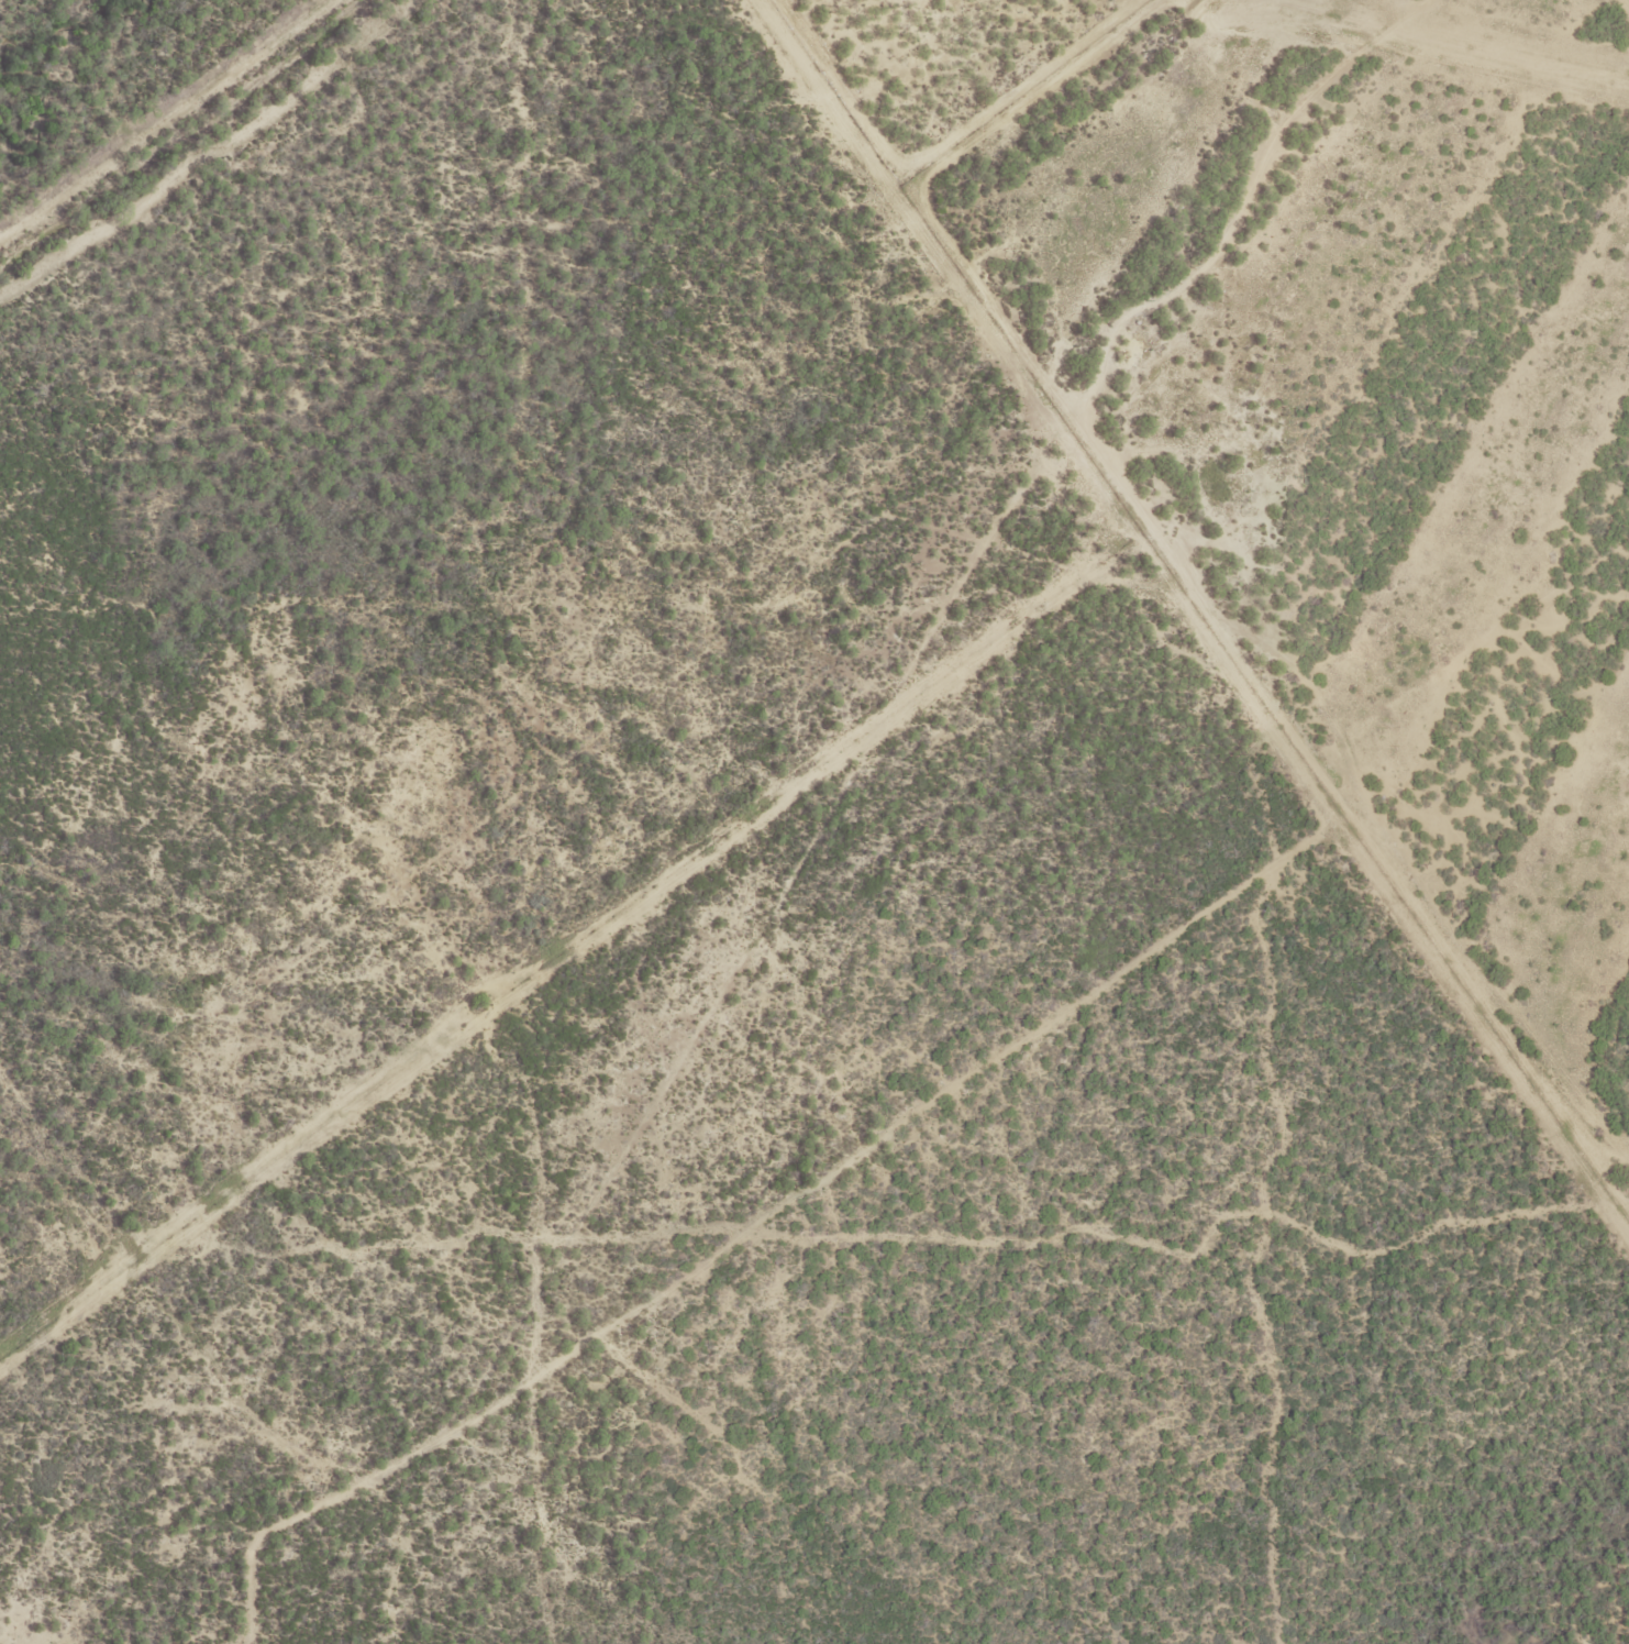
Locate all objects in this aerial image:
road: (763, 930)

